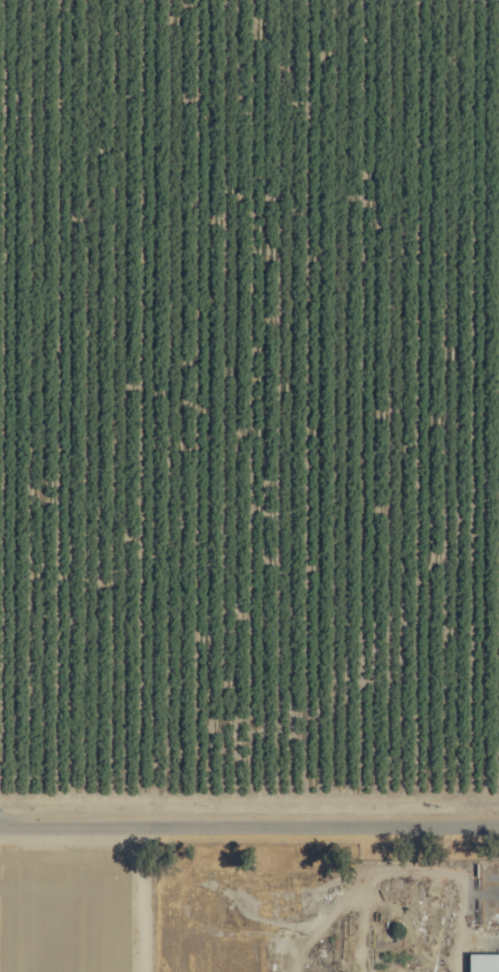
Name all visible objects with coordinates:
road: (249, 824)

